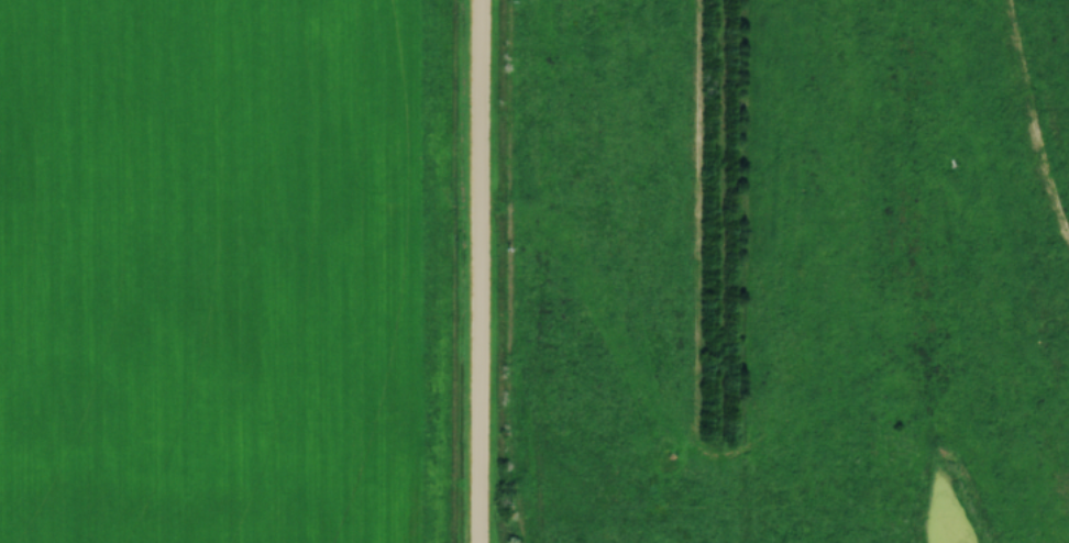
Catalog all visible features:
road: (478, 271)

